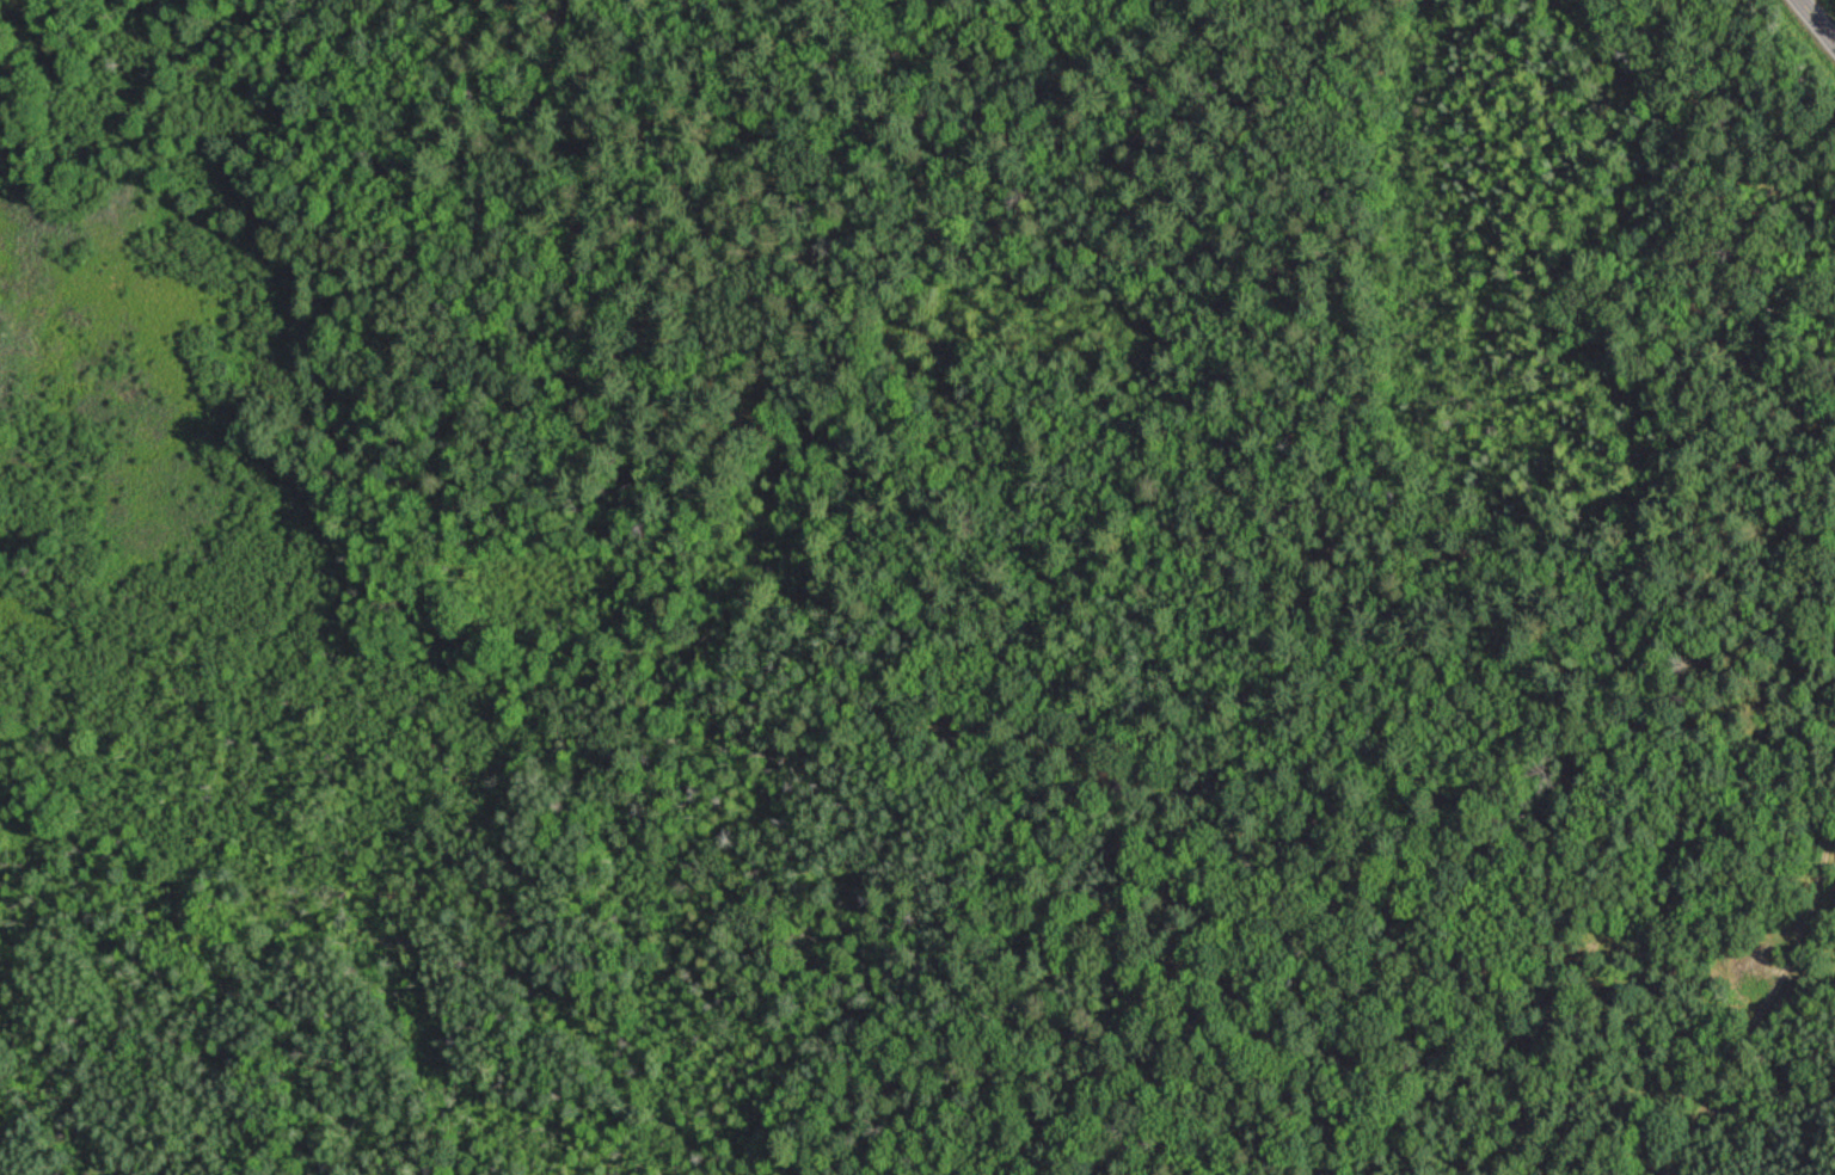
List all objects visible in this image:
road: (1818, 20)

